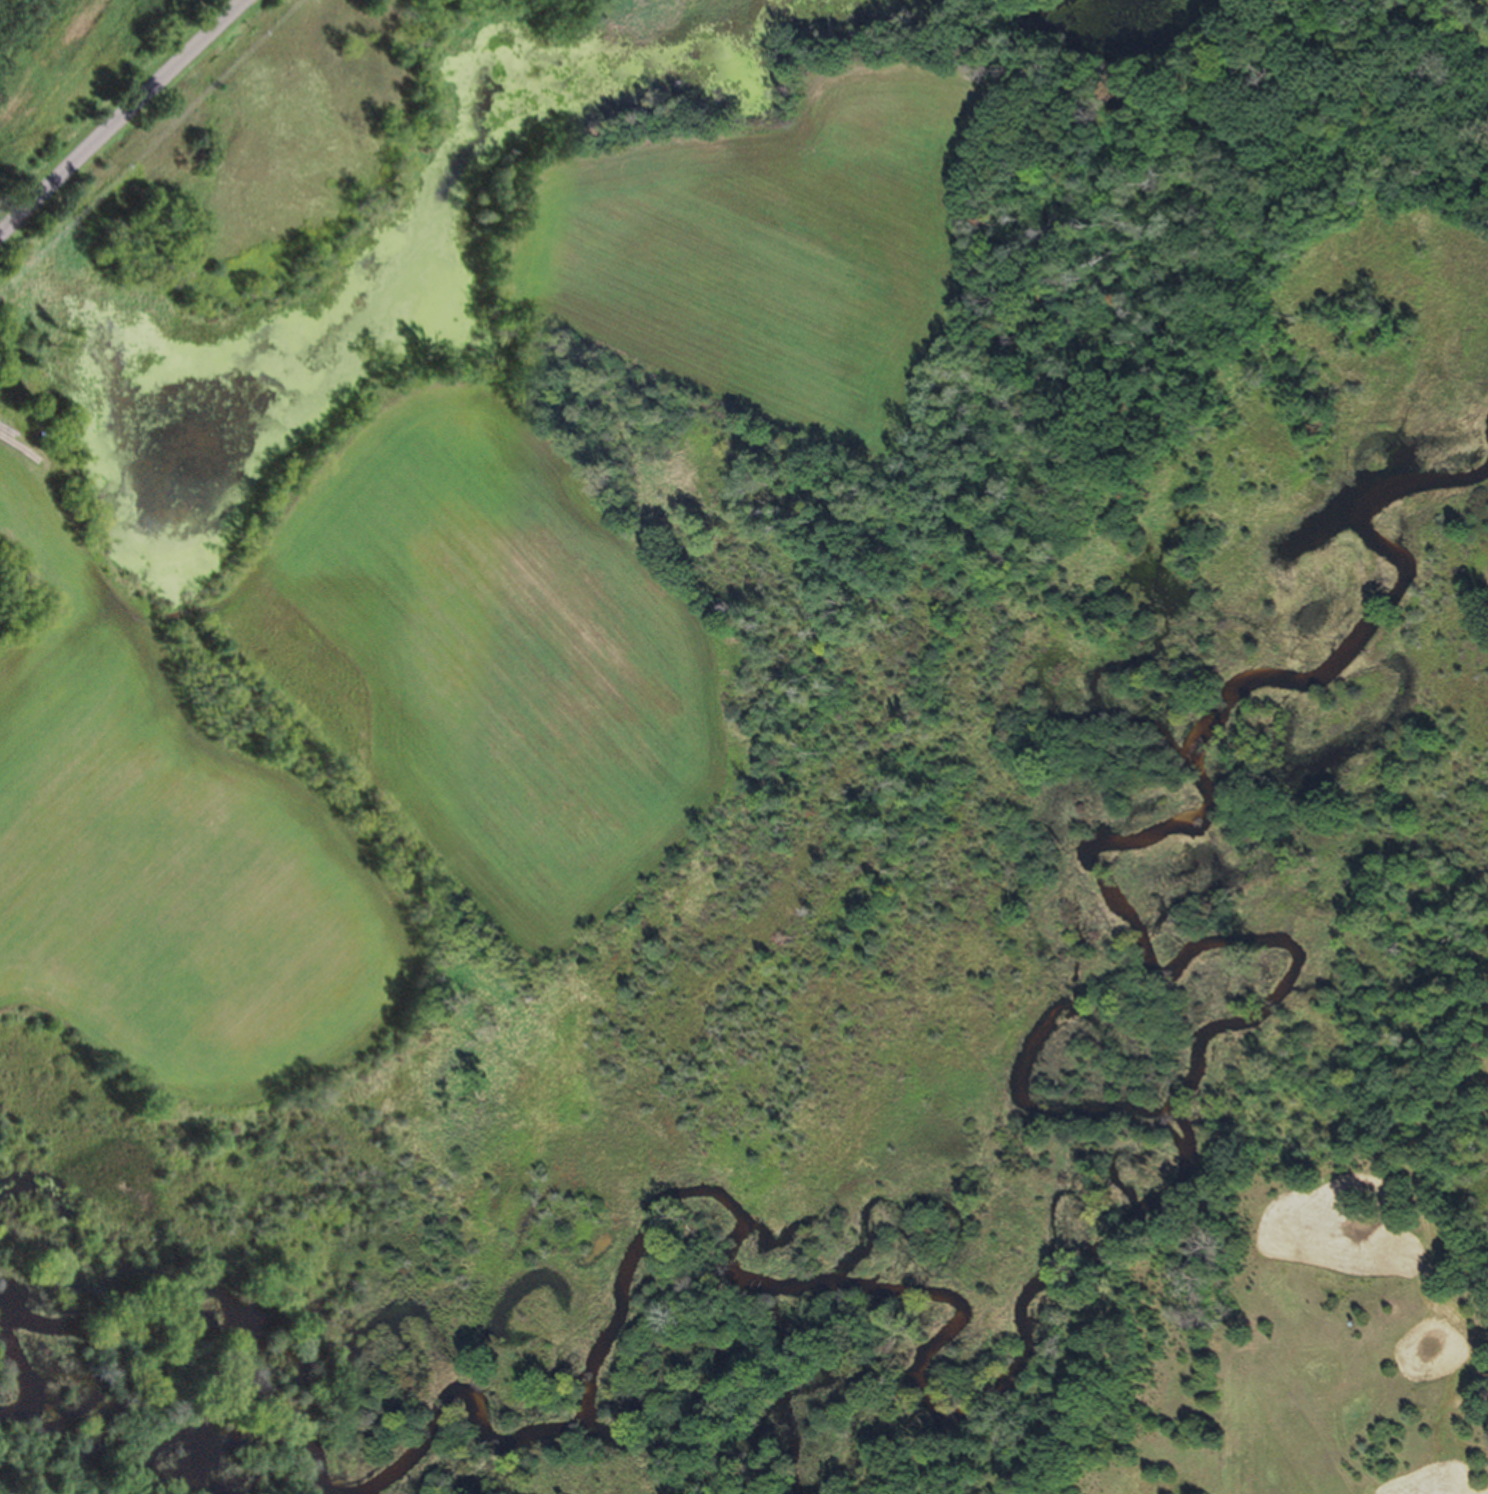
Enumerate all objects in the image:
road: (122, 116)

